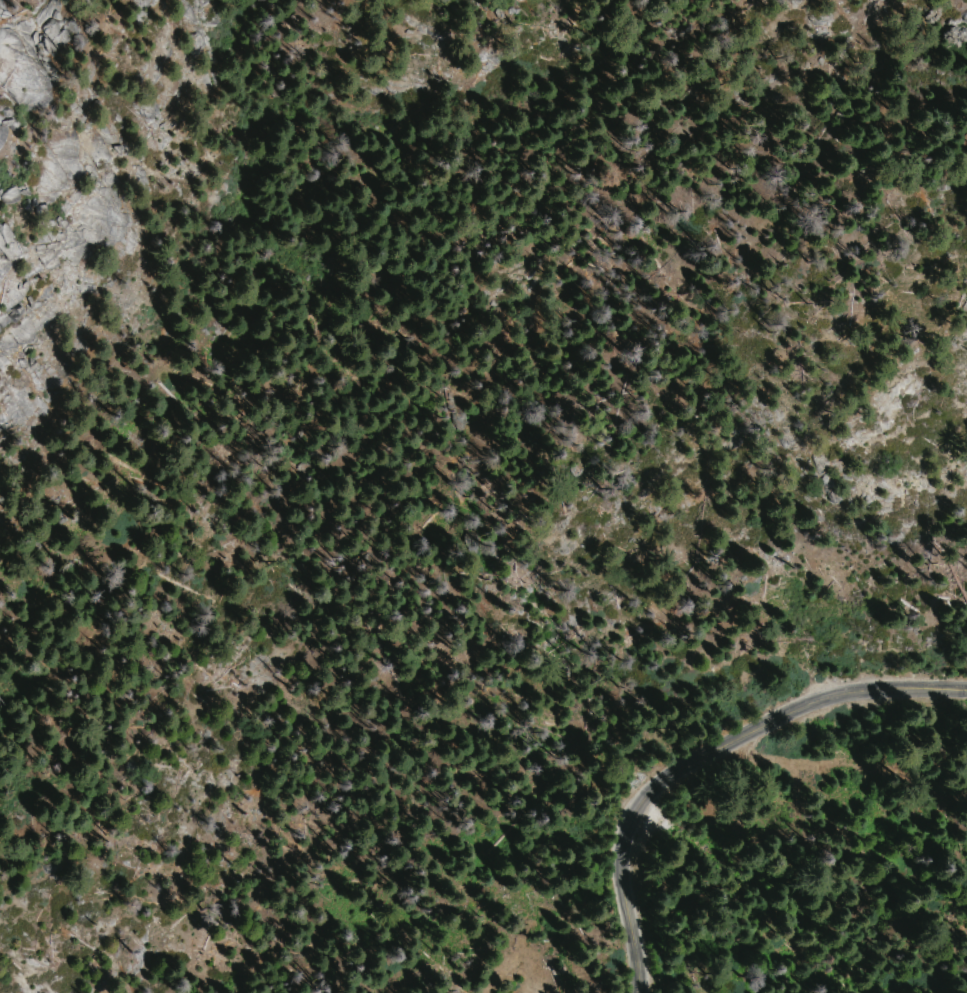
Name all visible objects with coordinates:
road: (714, 763)

